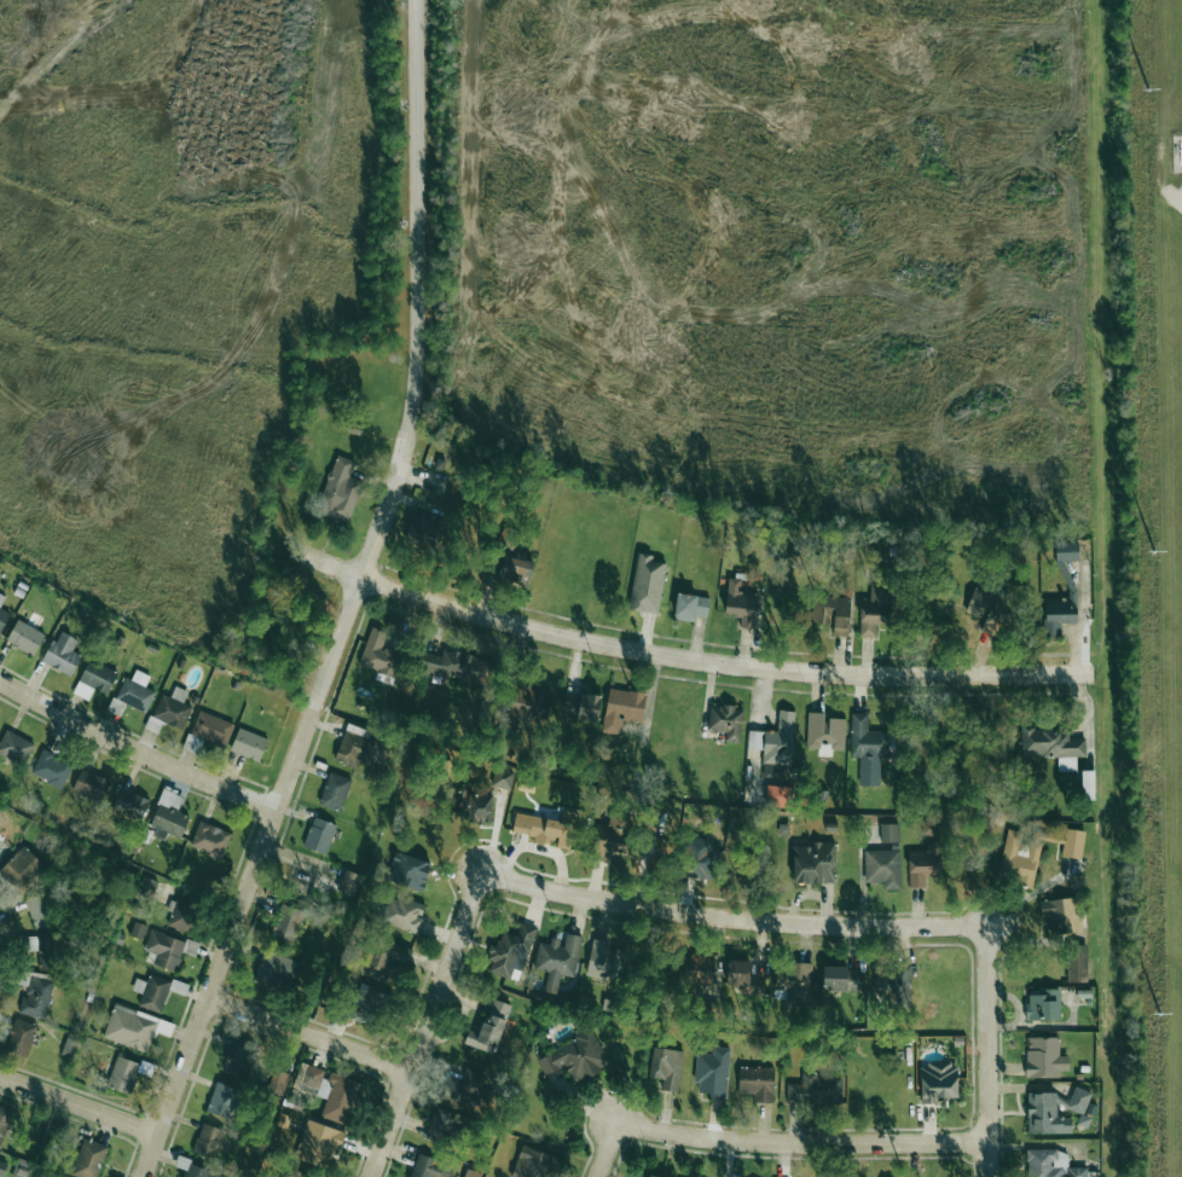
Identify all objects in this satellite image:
power tower: (1147, 89)
building: (340, 491)
building: (424, 528)
building: (1067, 551)
power tower: (1154, 551)
building: (516, 569)
building: (647, 584)
building: (1, 598)
road: (350, 602)
building: (741, 603)
building: (690, 607)
building: (987, 608)
building: (875, 609)
building: (833, 613)
building: (1058, 614)
building: (2, 619)
building: (24, 637)
building: (63, 654)
building: (379, 654)
road: (685, 660)
building: (457, 666)
building: (94, 679)
building: (528, 703)
building: (570, 703)
building: (589, 707)
building: (173, 708)
building: (622, 708)
building: (725, 721)
building: (212, 729)
building: (825, 732)
building: (775, 743)
building: (248, 744)
building: (1053, 746)
building: (15, 747)
building: (355, 747)
road: (133, 752)
building: (51, 769)
building: (503, 778)
building: (91, 785)
building: (335, 792)
building: (777, 795)
building: (131, 804)
building: (477, 808)
building: (169, 816)
building: (547, 828)
building: (888, 833)
building: (319, 835)
building: (612, 837)
building: (210, 840)
building: (1035, 852)
building: (699, 858)
building: (813, 863)
building: (923, 864)
building: (882, 868)
building: (21, 870)
building: (406, 871)
building: (348, 882)
building: (41, 910)
building: (182, 911)
building: (402, 914)
building: (1061, 915)
road: (731, 918)
building: (288, 922)
building: (41, 950)
building: (164, 950)
building: (510, 950)
building: (381, 957)
building: (557, 959)
building: (606, 961)
building: (1078, 963)
building: (277, 970)
building: (700, 973)
building: (743, 978)
building: (841, 979)
building: (885, 982)
building: (795, 984)
building: (152, 992)
building: (1043, 1003)
building: (371, 1005)
power tower: (1160, 1016)
road: (423, 1025)
building: (131, 1027)
building: (489, 1028)
road: (307, 1031)
building: (21, 1037)
road: (985, 1053)
building: (238, 1057)
building: (575, 1057)
building: (1044, 1057)
building: (666, 1067)
building: (713, 1072)
building: (122, 1074)
building: (278, 1082)
building: (757, 1083)
building: (939, 1083)
building: (464, 1088)
building: (815, 1090)
building: (332, 1092)
building: (222, 1100)
building: (1078, 1100)
road: (77, 1104)
building: (1045, 1114)
building: (4, 1121)
building: (441, 1126)
building: (208, 1141)
building: (318, 1144)
road: (799, 1144)
road: (606, 1150)
building: (88, 1159)
building: (1047, 1162)
building: (535, 1164)
building: (430, 1167)
building: (2, 1169)
building: (1077, 1172)
building: (300, 1175)
building: (645, 1175)
building: (464, 1176)

